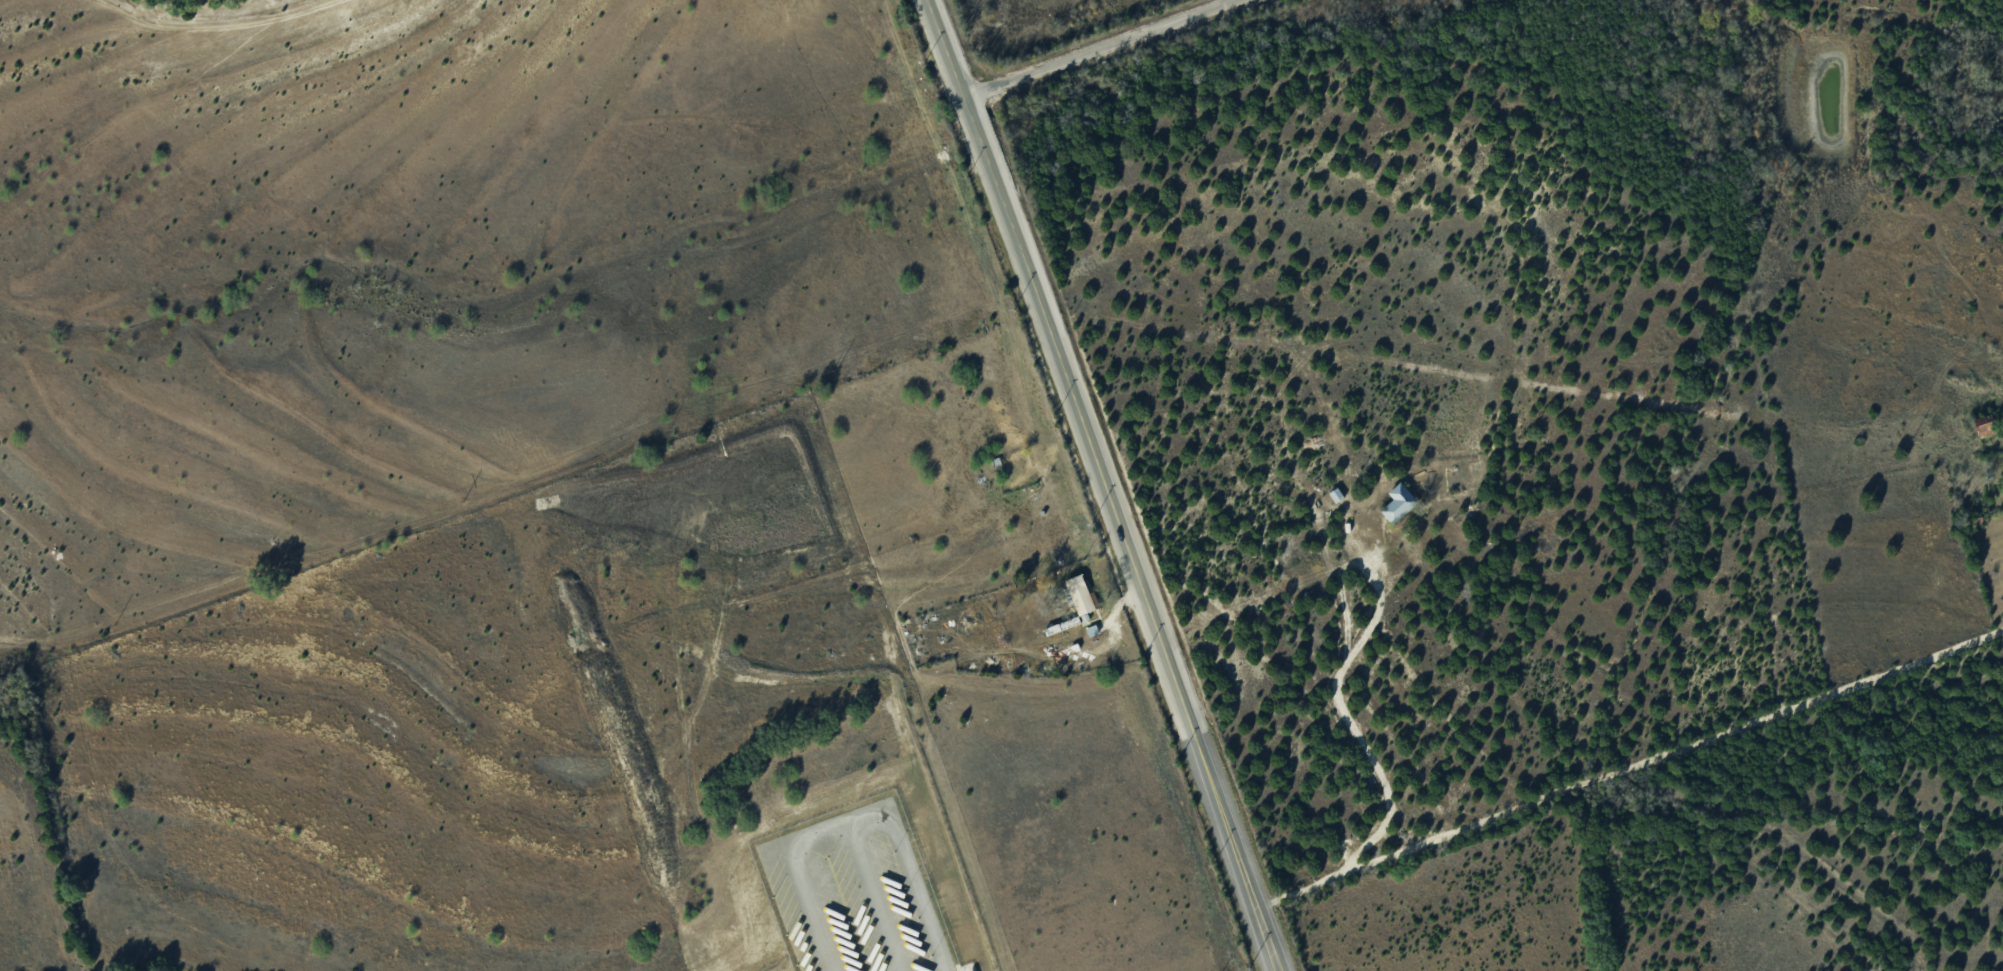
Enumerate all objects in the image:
road: (1093, 44)
building: (1985, 425)
road: (1100, 486)
building: (1398, 502)
building: (1080, 594)
road: (1343, 664)
road: (1629, 766)
road: (837, 817)
road: (918, 891)
road: (814, 908)

